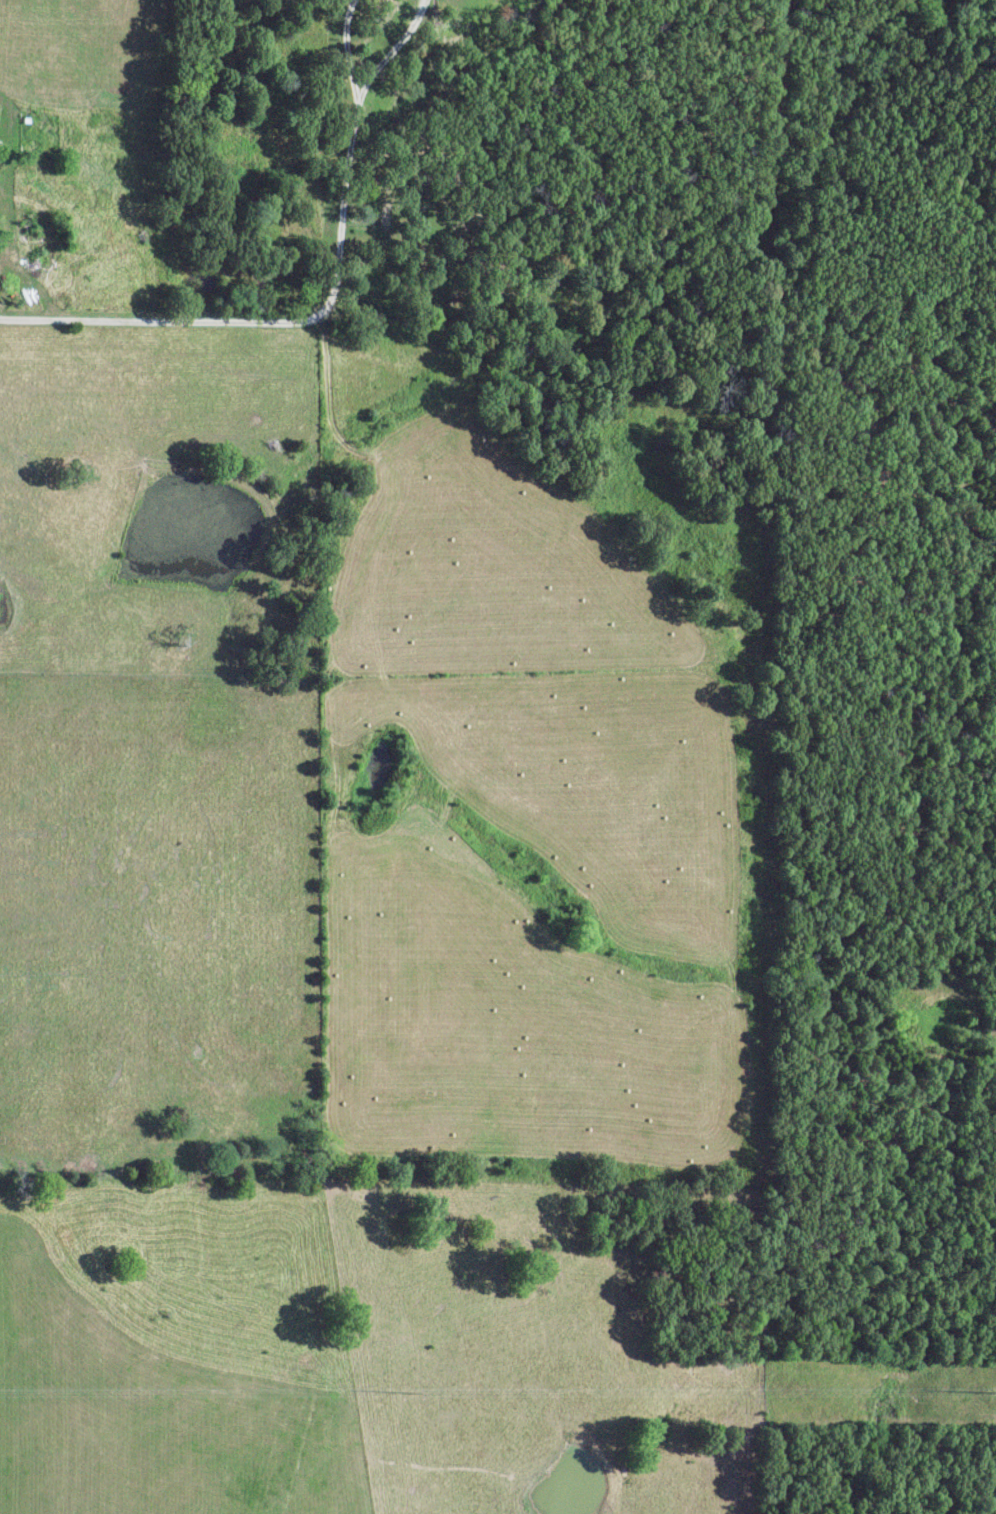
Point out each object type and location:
road: (159, 164)
road: (497, 344)

